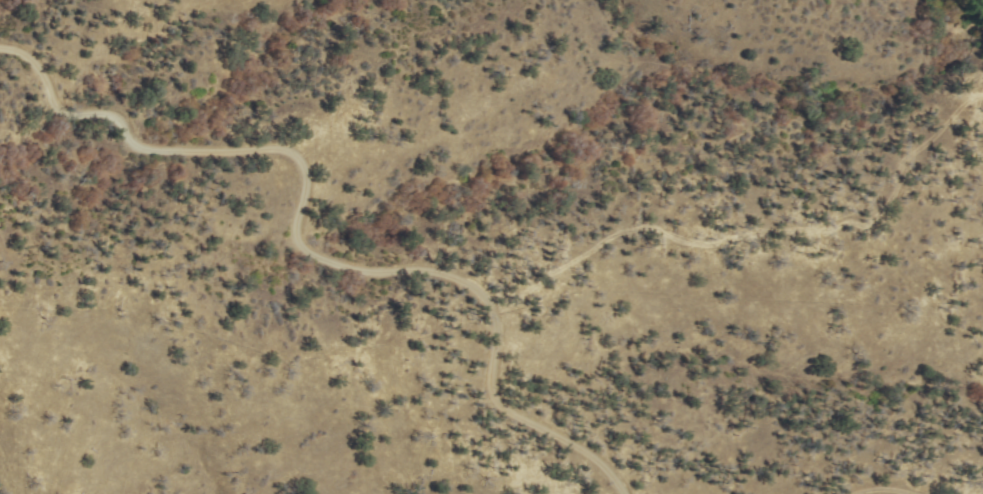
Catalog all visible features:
road: (368, 227)

